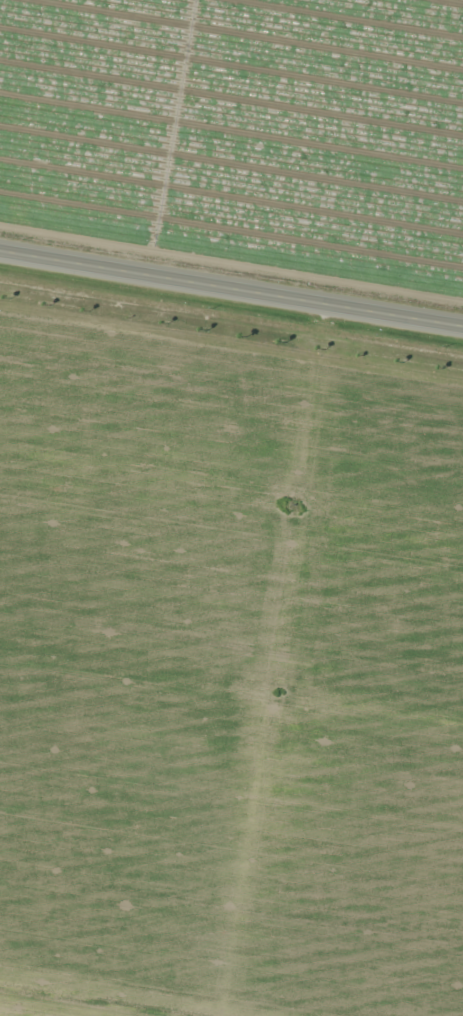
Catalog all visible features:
road: (231, 305)

